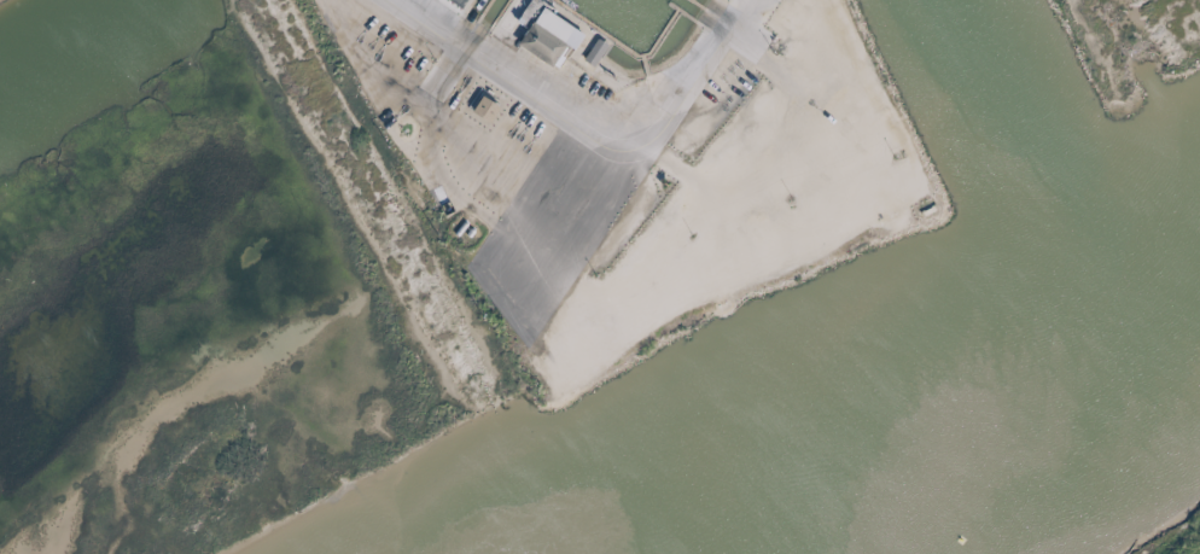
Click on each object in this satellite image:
building: (540, 37)
building: (590, 53)
building: (476, 105)
road: (582, 134)

